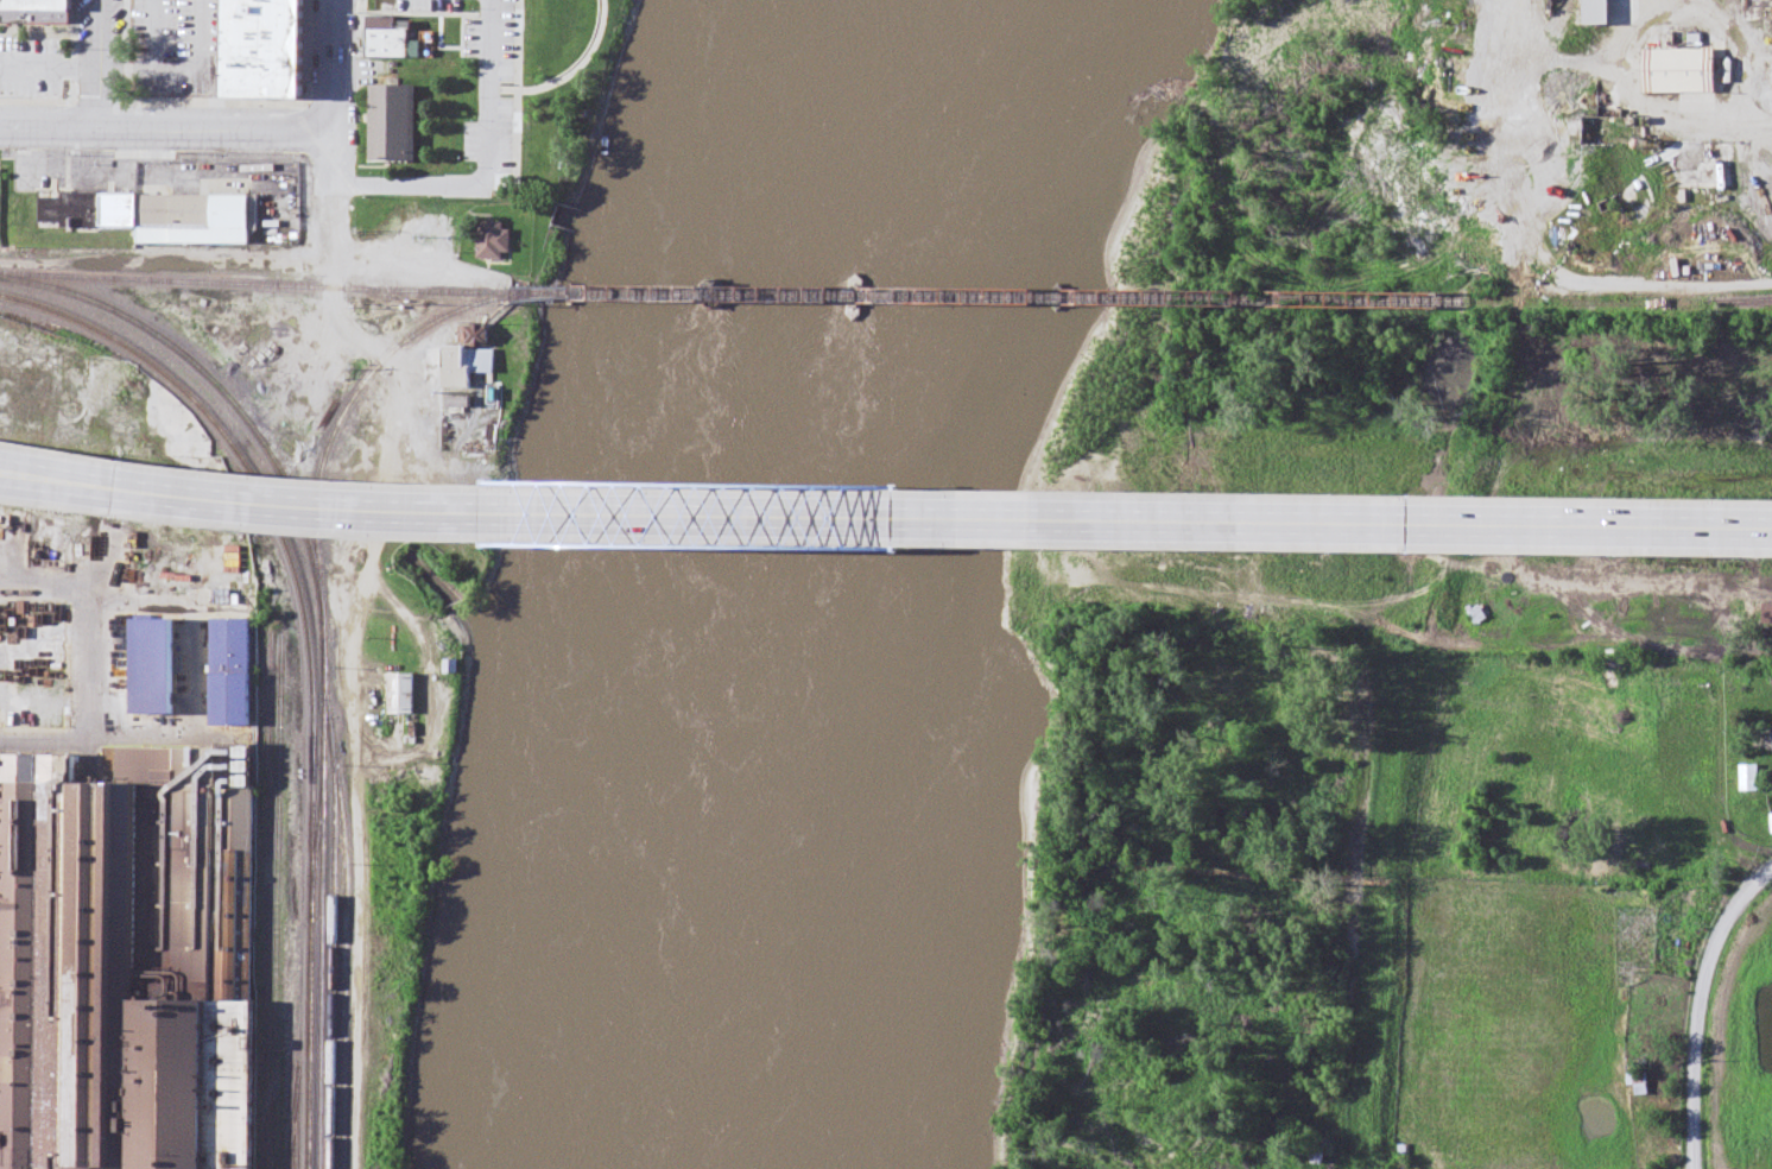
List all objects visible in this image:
building: (40, 12)
building: (1601, 13)
building: (395, 32)
building: (265, 49)
road: (100, 63)
road: (336, 64)
building: (1720, 67)
building: (1676, 71)
road: (572, 72)
park: (576, 86)
building: (393, 118)
road: (158, 127)
road: (329, 154)
road: (488, 170)
building: (157, 217)
building: (498, 242)
railway: (254, 286)
railway: (543, 295)
railway: (543, 296)
railway: (1020, 298)
railway: (19, 302)
railway: (1740, 302)
railway: (1587, 303)
railway: (1740, 305)
railway: (419, 333)
road: (359, 340)
building: (485, 361)
railway: (209, 375)
building: (738, 423)
railway: (321, 487)
building: (57, 494)
road: (380, 514)
road: (449, 518)
building: (1368, 524)
road: (1337, 526)
river: (803, 583)
building: (1475, 615)
building: (153, 669)
building: (38, 670)
building: (233, 674)
railway: (312, 677)
building: (405, 695)
building: (1771, 738)
road: (390, 754)
building: (1746, 779)
building: (1770, 824)
railway: (318, 843)
railway: (322, 873)
railway: (334, 893)
road: (1743, 897)
railway: (265, 902)
railway: (279, 902)
railway: (347, 946)
building: (126, 961)
road: (1695, 1047)
railway: (300, 1056)
building: (1635, 1083)
railway: (292, 1120)
building: (1417, 1143)
building: (1315, 1158)

